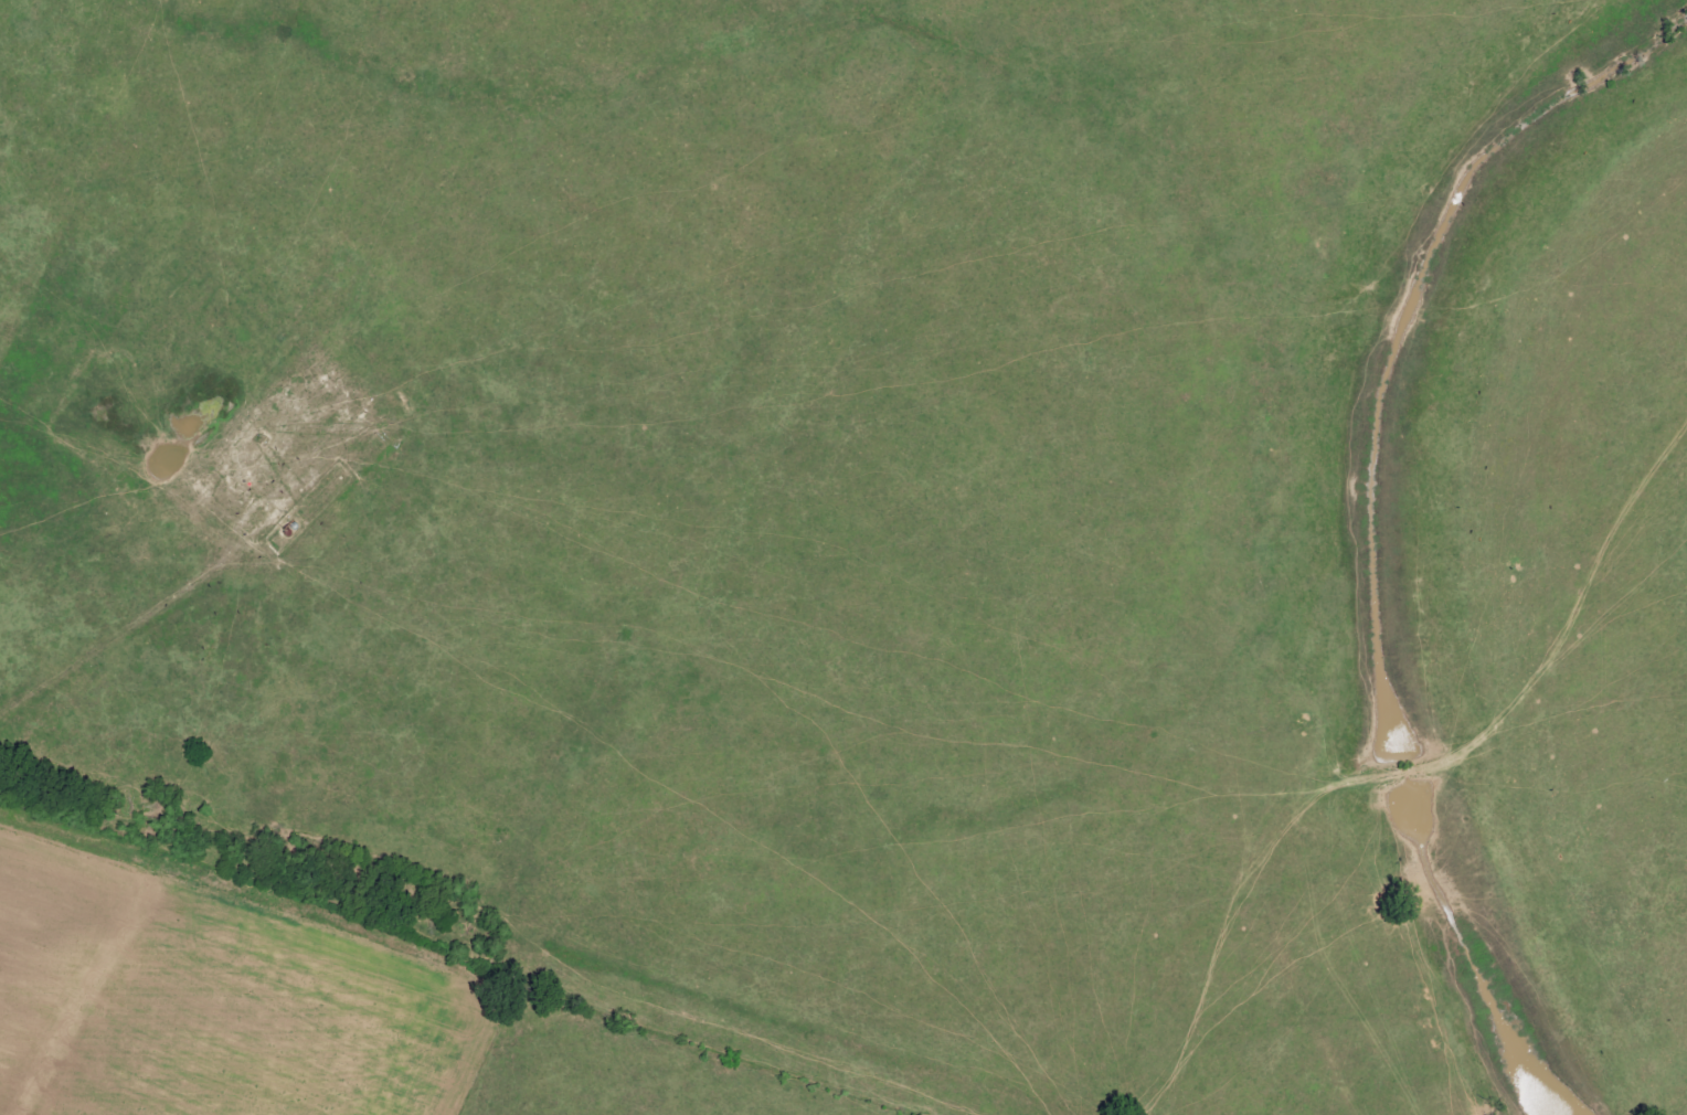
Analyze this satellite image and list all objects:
railway: (501, 953)

